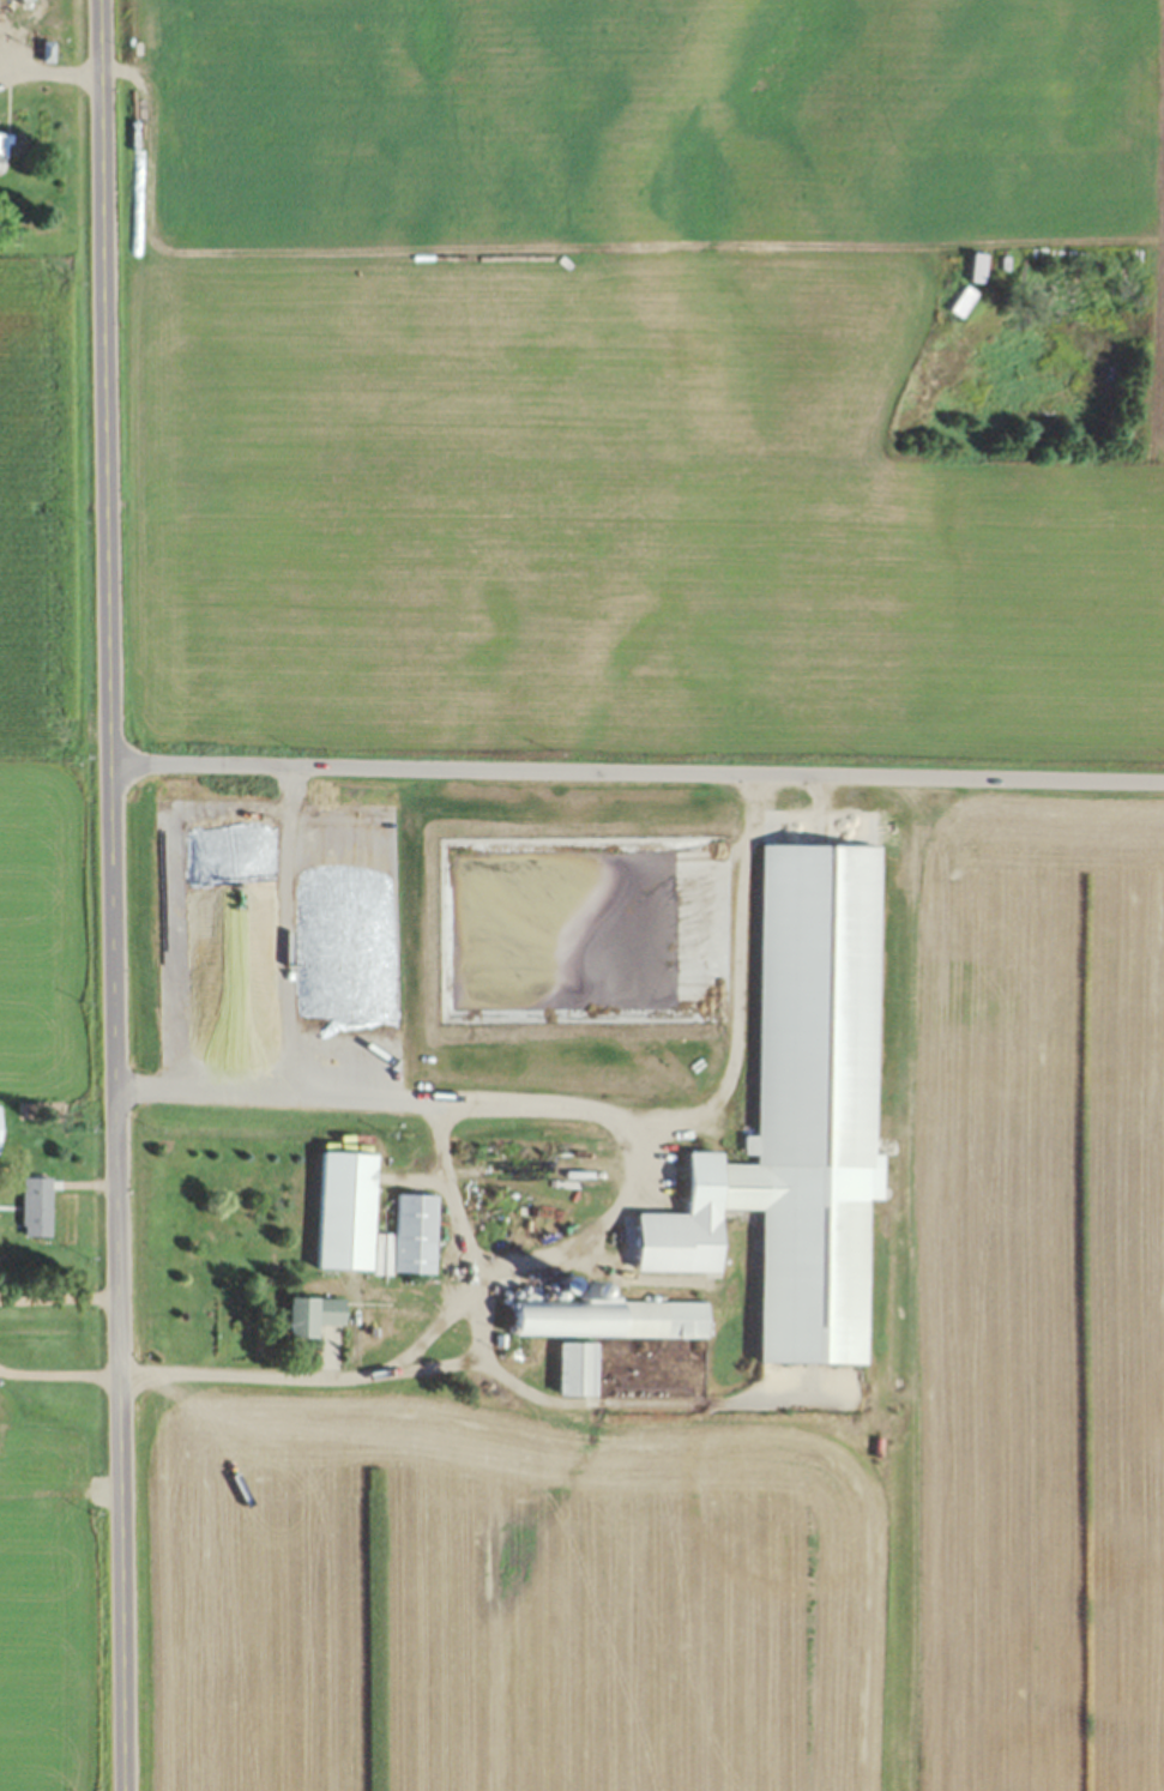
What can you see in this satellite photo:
road: (52, 62)
building: (2, 153)
building: (982, 269)
road: (635, 773)
building: (270, 857)
road: (108, 895)
building: (309, 910)
building: (1, 1128)
road: (450, 1194)
road: (625, 1196)
building: (37, 1207)
building: (346, 1212)
building: (415, 1232)
building: (802, 1249)
road: (56, 1299)
building: (315, 1315)
building: (611, 1319)
road: (435, 1323)
building: (579, 1369)
road: (58, 1375)

